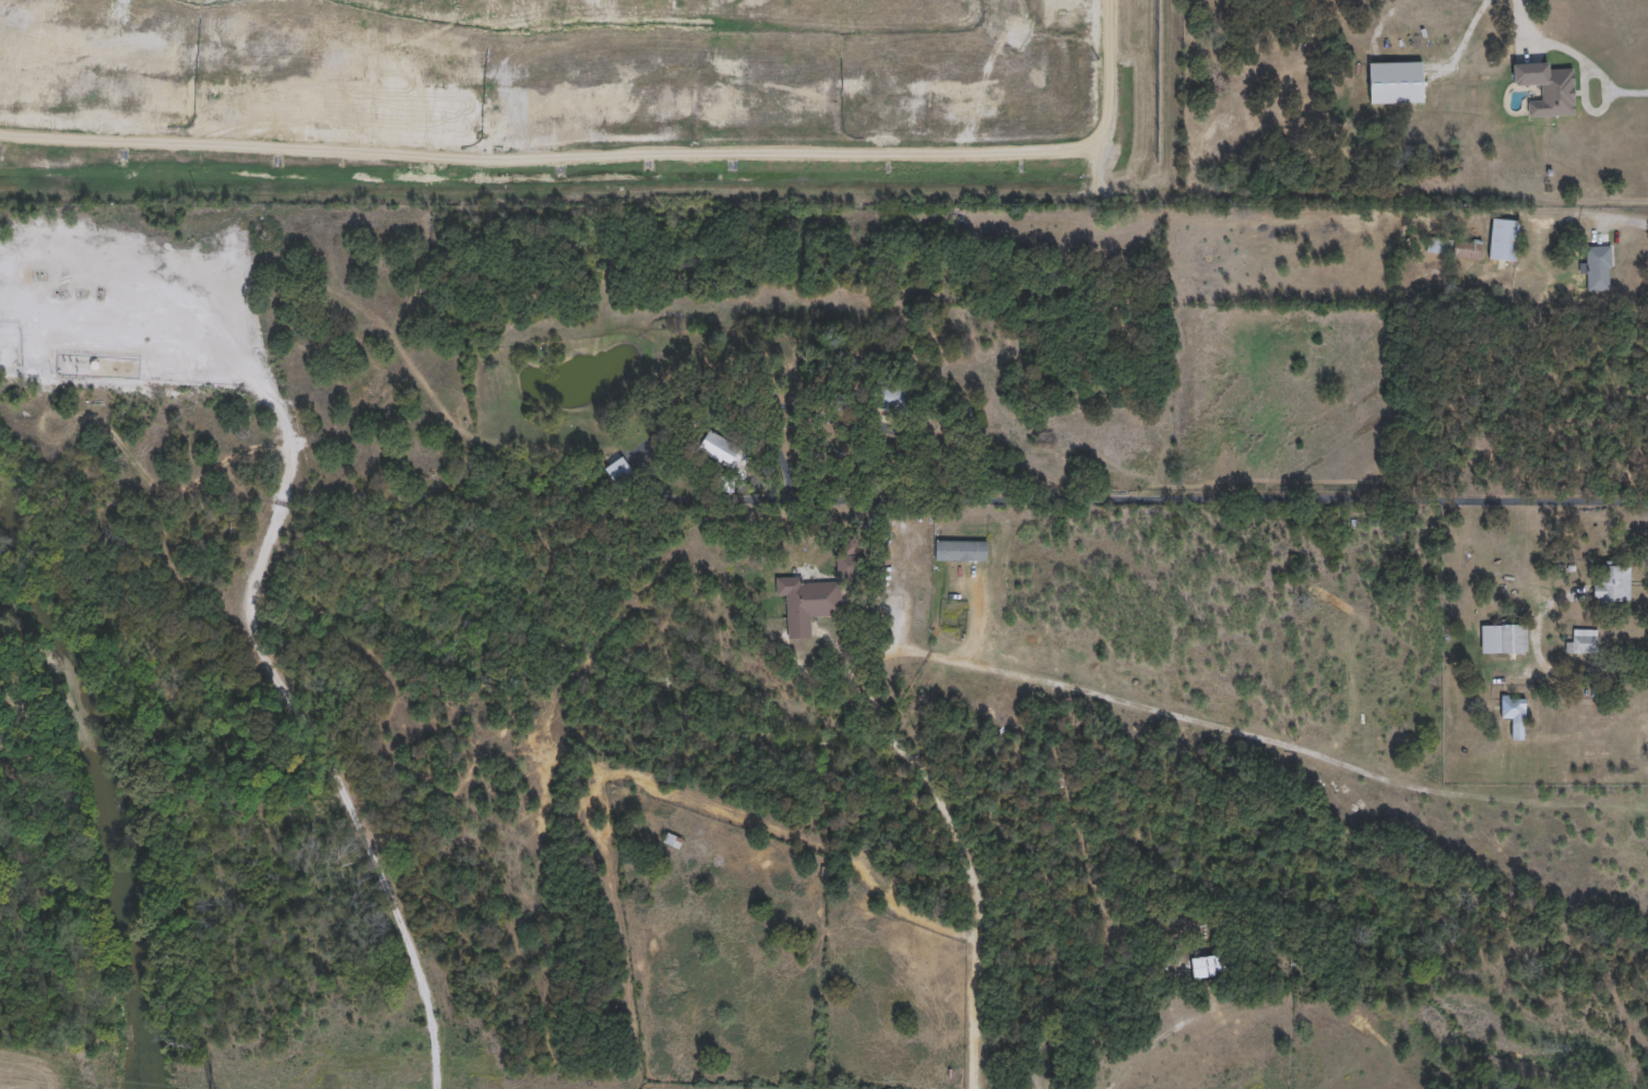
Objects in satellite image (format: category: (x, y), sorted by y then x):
building: (1313, 2)
road: (1563, 49)
building: (1397, 82)
building: (1546, 87)
road: (1635, 92)
landfill: (584, 102)
road: (1625, 218)
building: (1504, 238)
building: (1439, 245)
building: (1467, 249)
building: (1599, 268)
building: (891, 396)
building: (724, 450)
road: (642, 451)
building: (618, 469)
road: (1353, 498)
building: (961, 549)
building: (849, 555)
building: (1614, 581)
building: (807, 602)
building: (1505, 637)
building: (1582, 641)
building: (1514, 708)
road: (293, 718)
road: (1294, 751)
road: (960, 837)
building: (673, 840)
building: (1208, 966)

